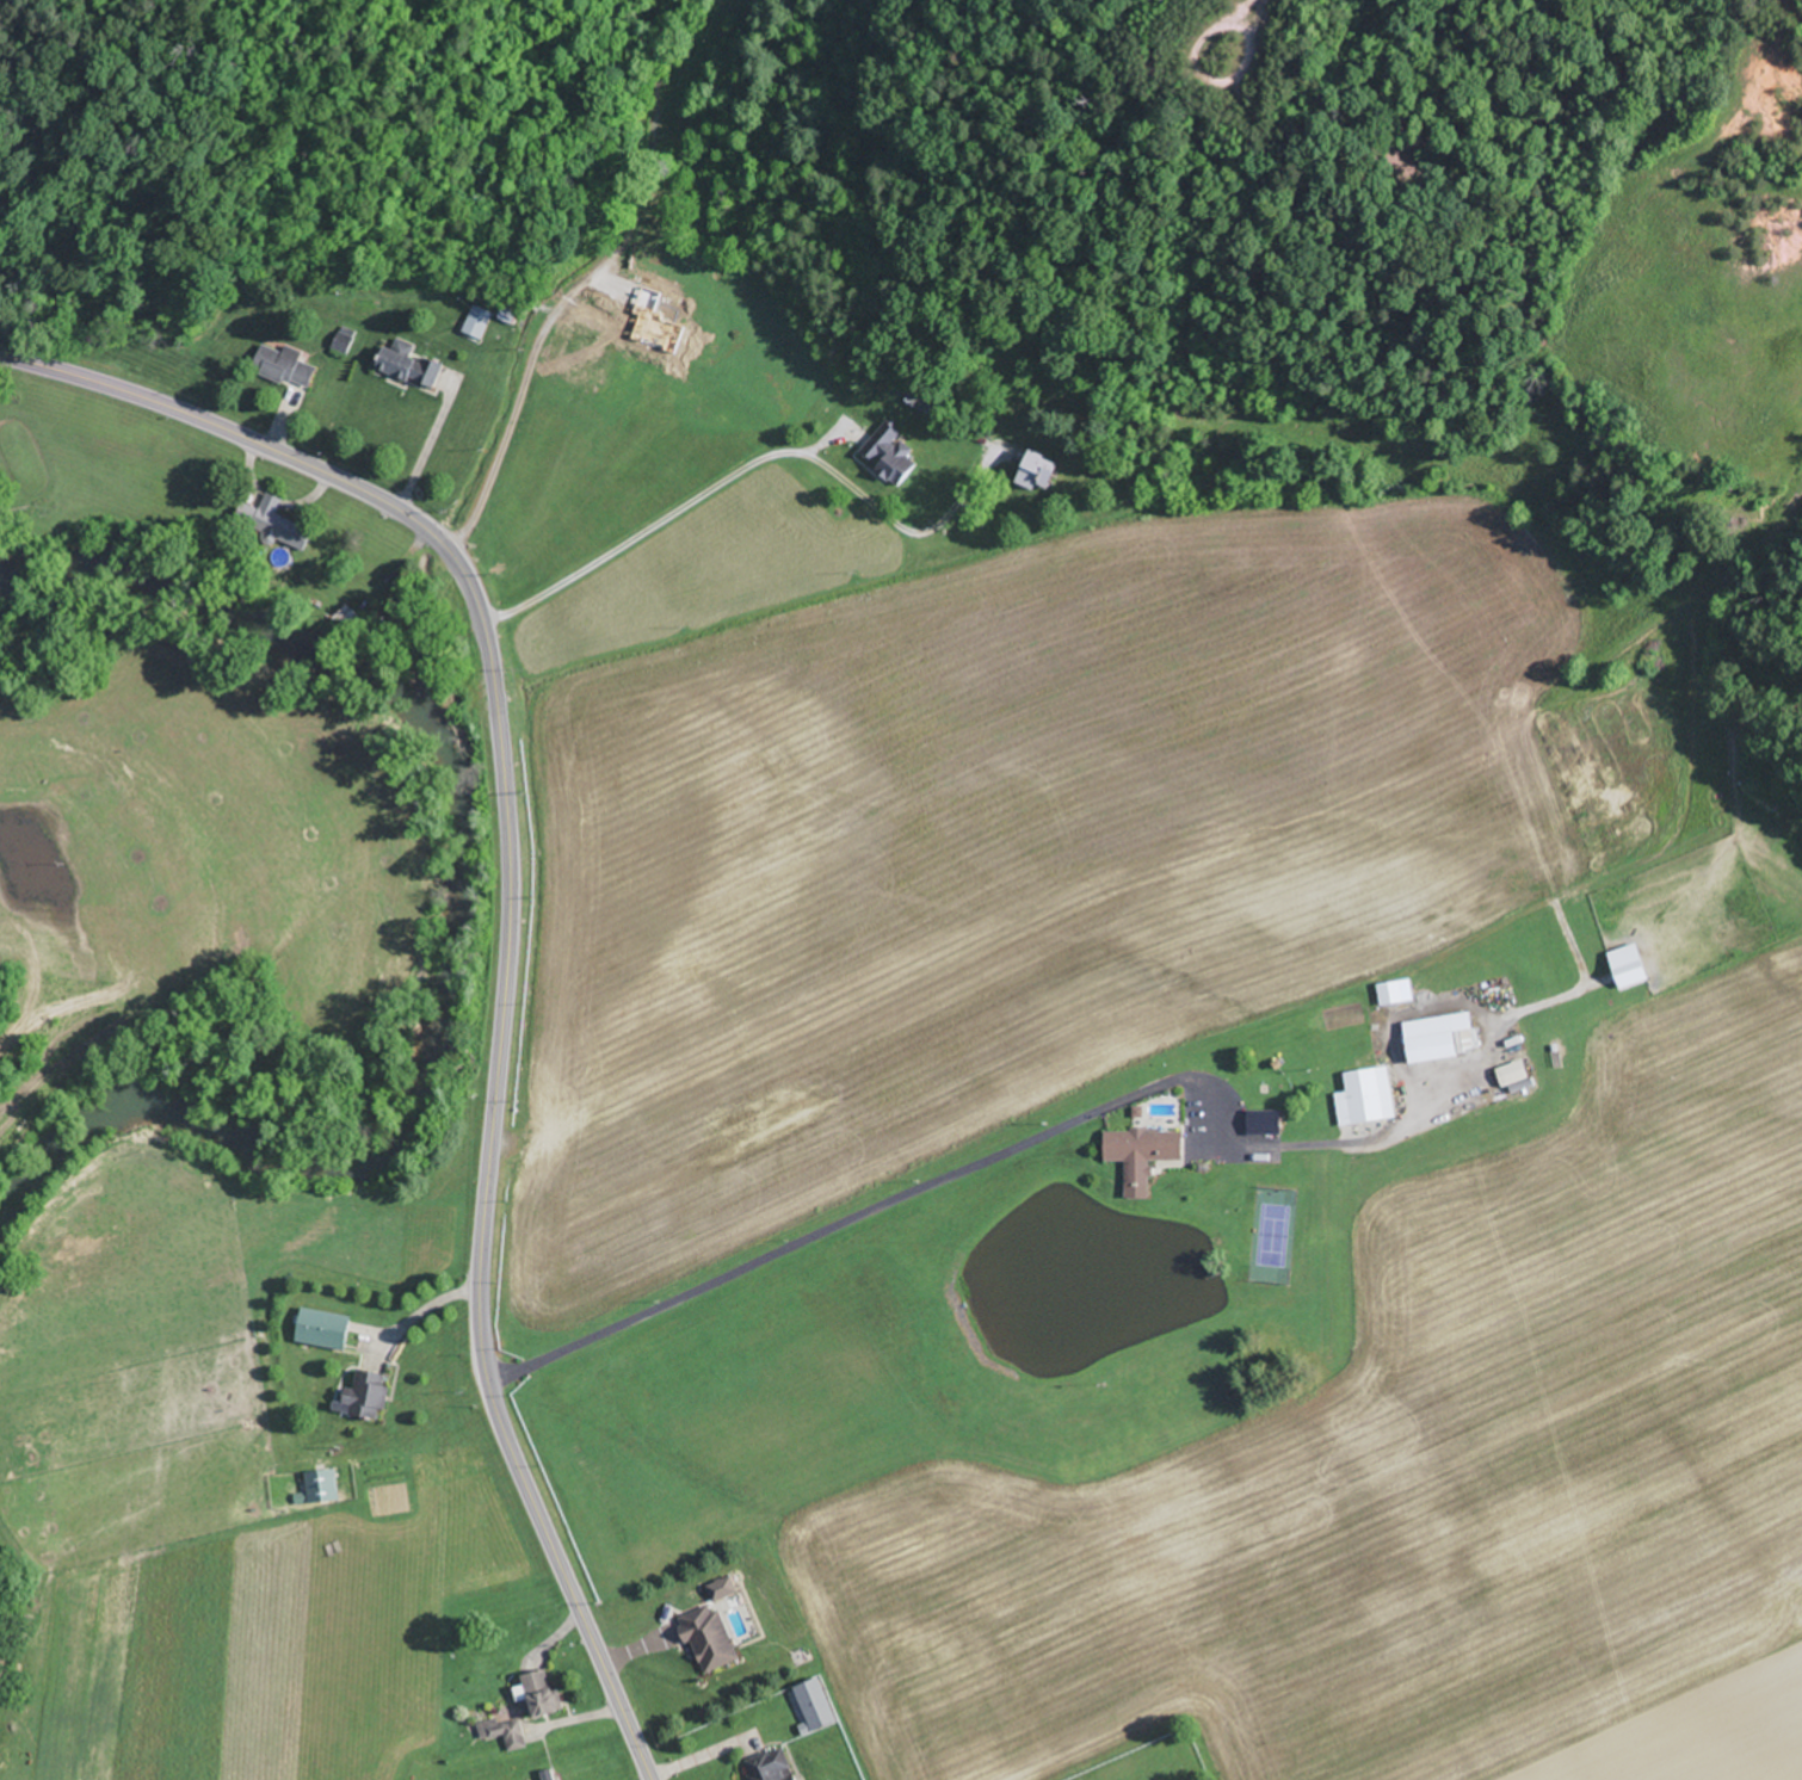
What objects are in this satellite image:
road: (1792, 6)
building: (729, 289)
building: (477, 322)
building: (579, 357)
building: (286, 365)
building: (412, 365)
building: (778, 376)
road: (428, 441)
building: (889, 455)
building: (1042, 474)
building: (297, 533)
road: (640, 533)
road: (1170, 857)
road: (510, 929)
road: (60, 1007)
building: (1365, 1098)
building: (1265, 1123)
building: (1144, 1148)
road: (1091, 1175)
building: (326, 1330)
building: (369, 1396)
building: (323, 1487)
building: (710, 1640)
building: (541, 1693)
building: (504, 1733)
building: (772, 1766)
building: (553, 1778)

